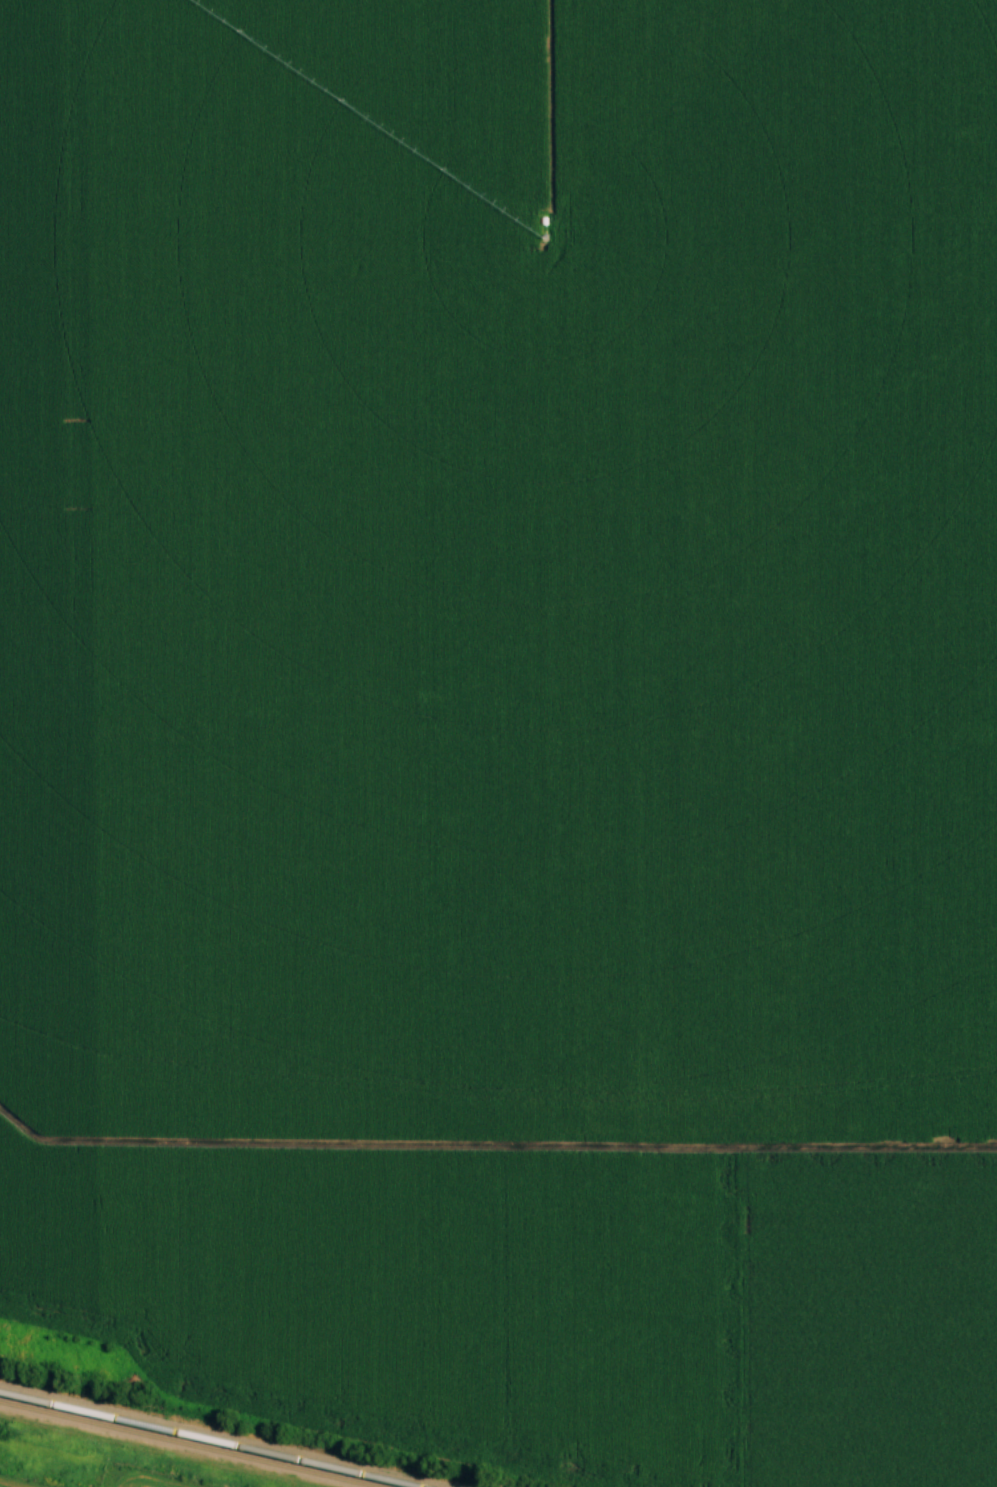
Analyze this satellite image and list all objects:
railway: (209, 1439)
railway: (185, 1445)

